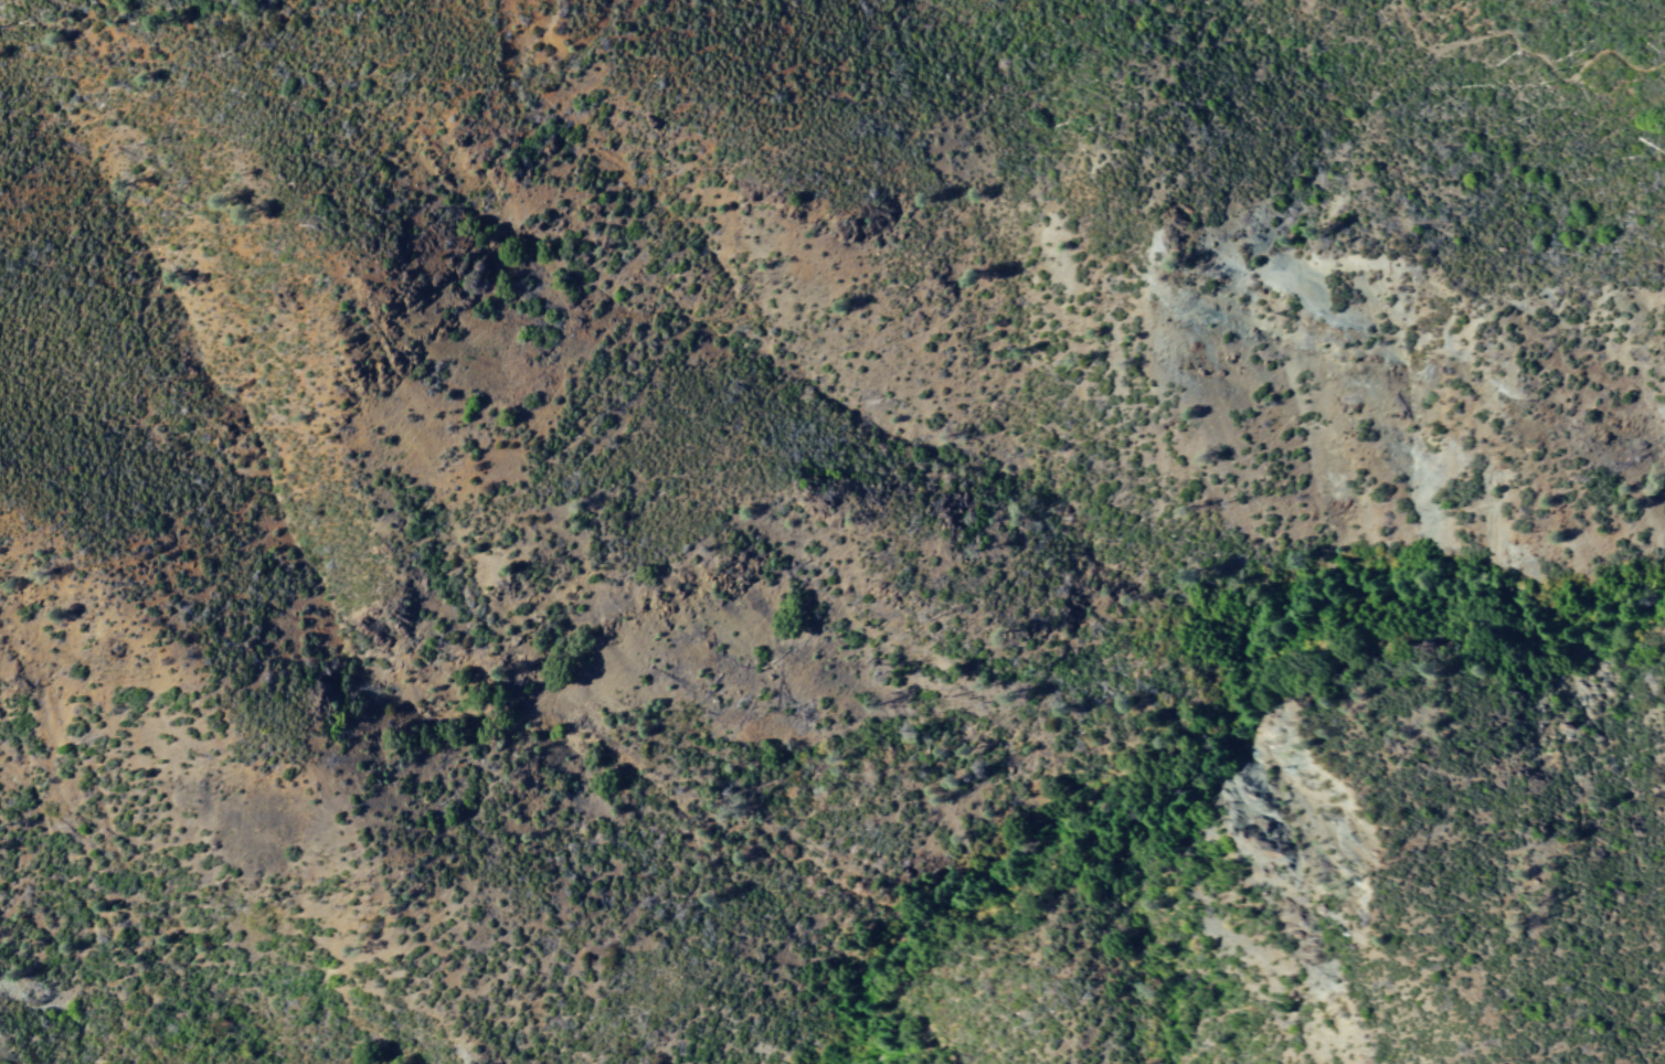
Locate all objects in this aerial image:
road: (596, 25)

